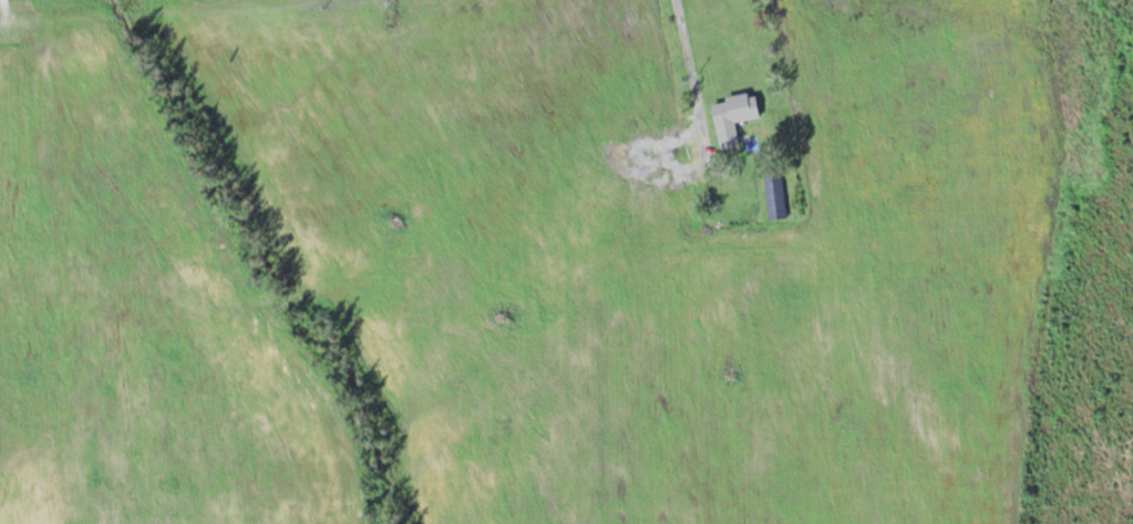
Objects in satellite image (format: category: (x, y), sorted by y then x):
building: (734, 115)
building: (776, 193)

